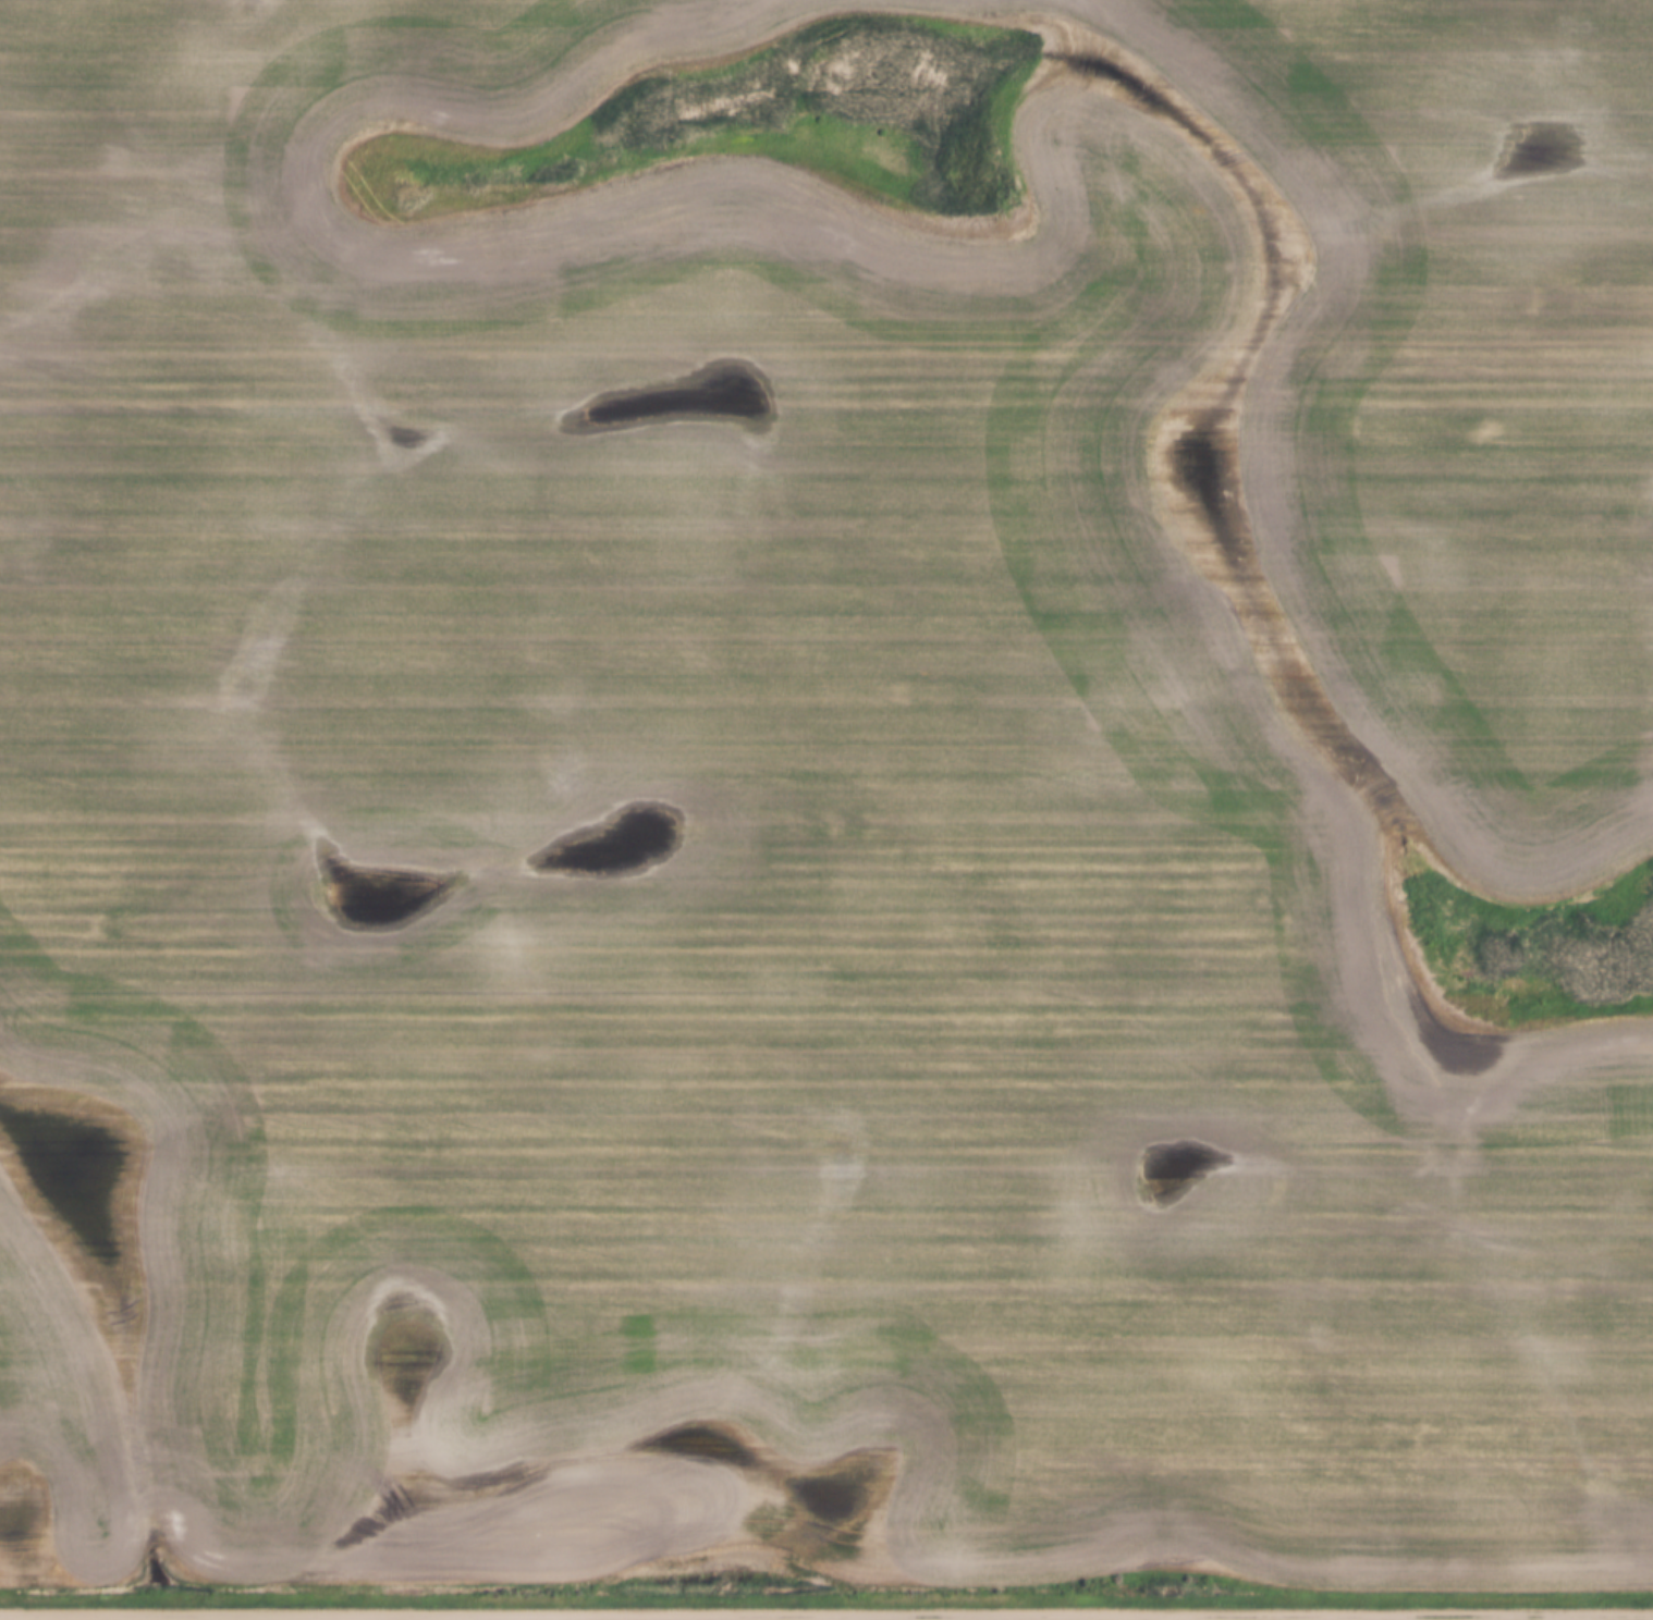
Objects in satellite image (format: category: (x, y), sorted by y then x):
road: (826, 1617)

